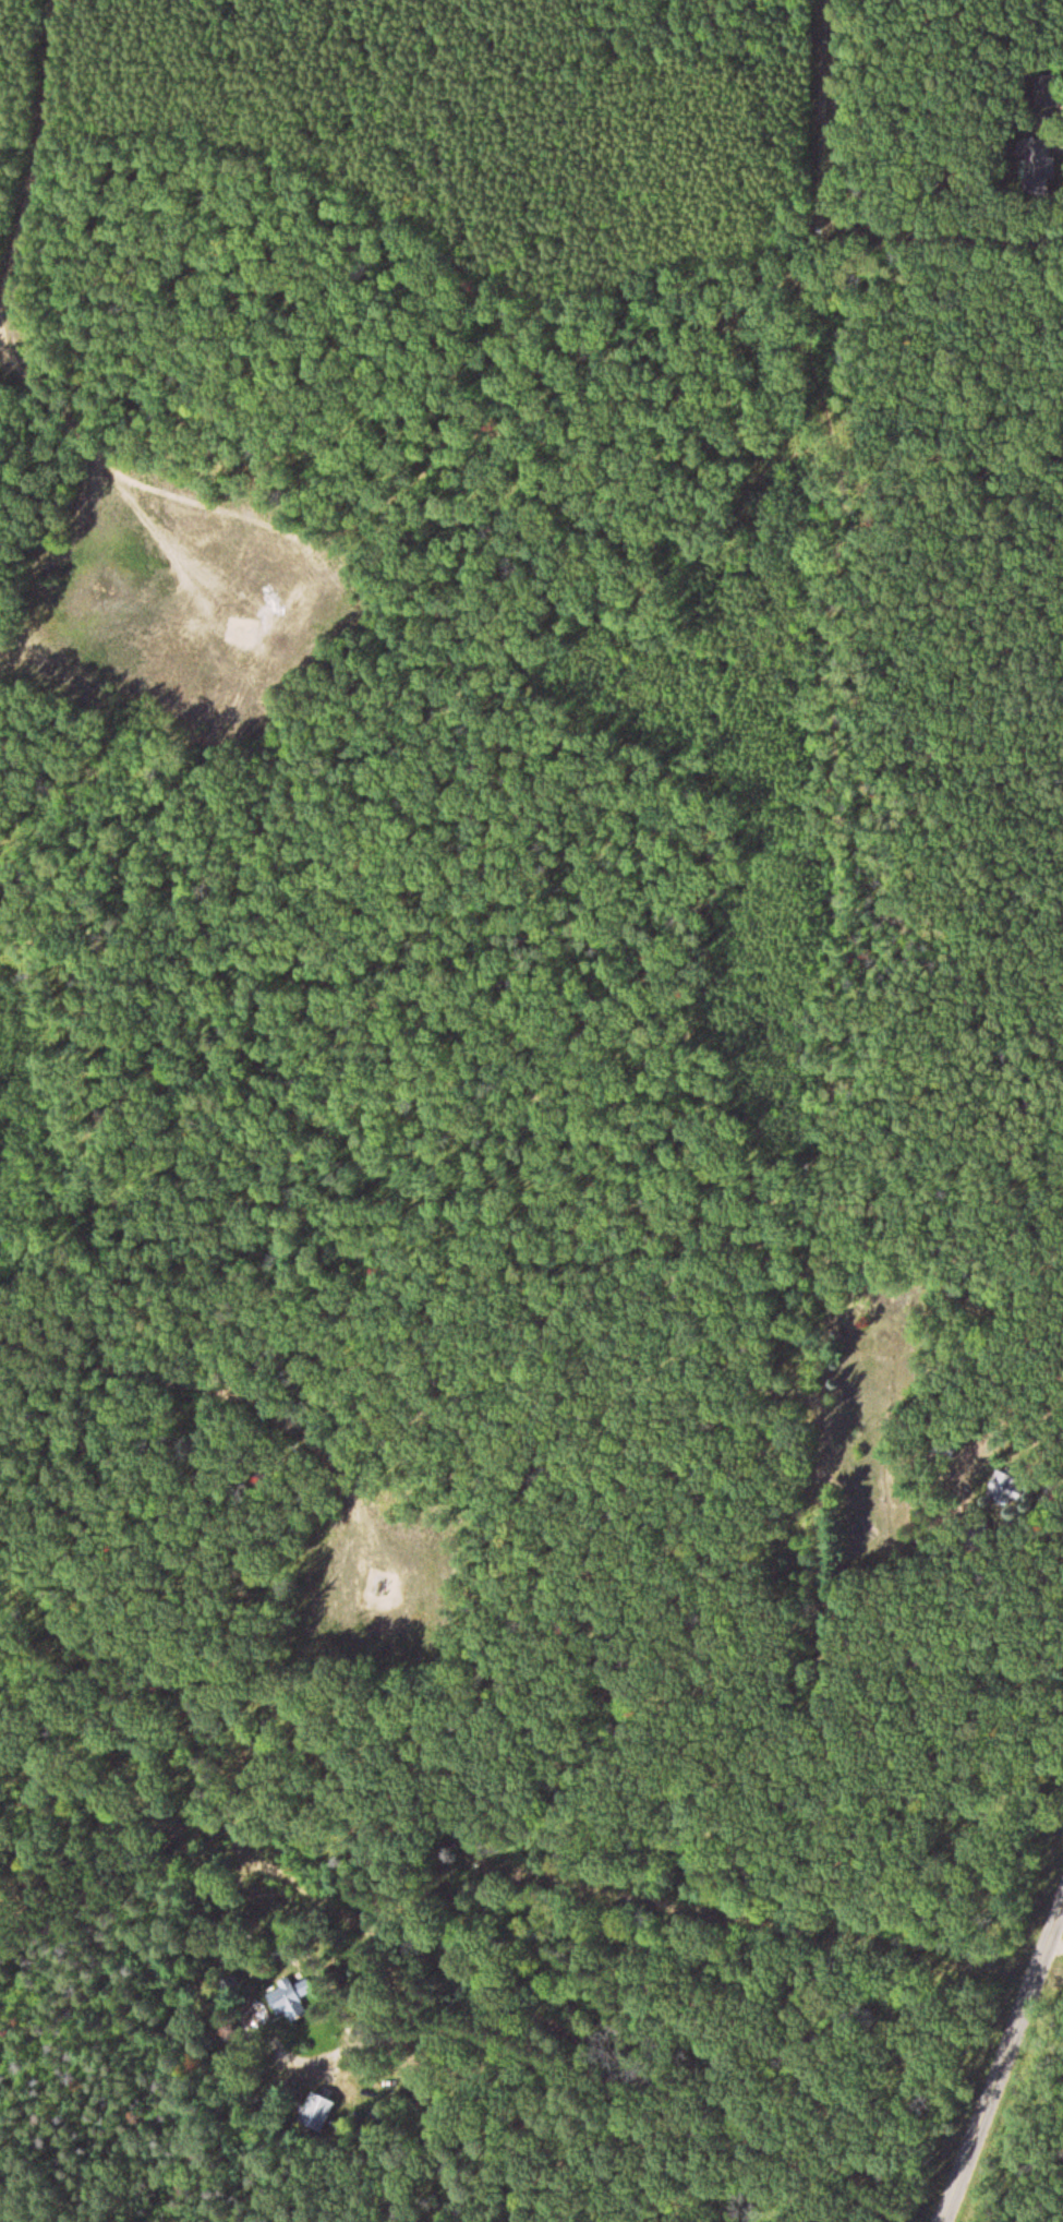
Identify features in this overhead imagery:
road: (20, 140)
building: (1041, 159)
road: (99, 448)
road: (203, 1395)
petroleum well: (382, 1582)
road: (1061, 1922)
building: (281, 2002)
building: (251, 2017)
road: (626, 2041)
road: (1004, 2066)
building: (314, 2114)

